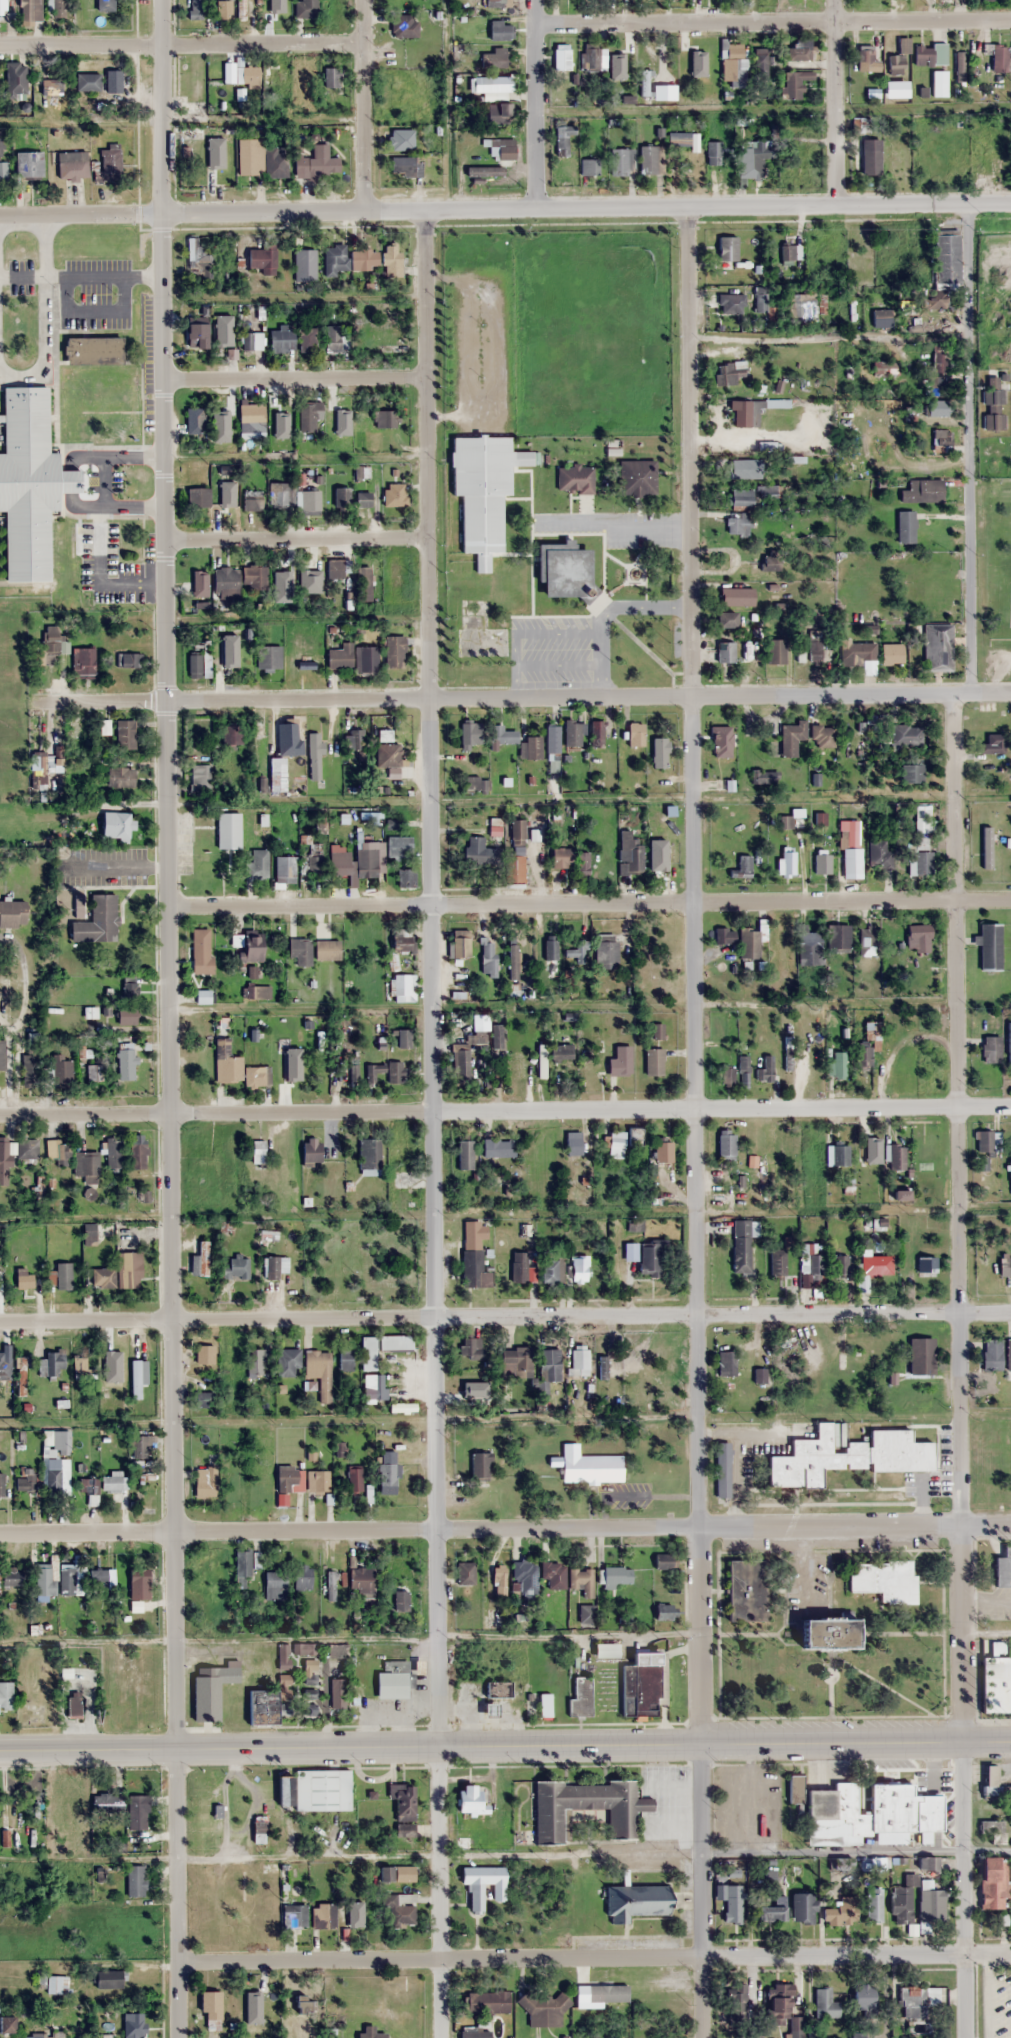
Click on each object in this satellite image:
building: (397, 3)
building: (494, 3)
building: (2, 5)
building: (56, 5)
building: (104, 5)
building: (278, 8)
building: (304, 8)
building: (329, 8)
building: (195, 9)
building: (241, 9)
building: (29, 10)
building: (221, 10)
road: (773, 23)
building: (403, 25)
building: (499, 30)
road: (179, 47)
building: (798, 51)
building: (929, 54)
building: (620, 56)
building: (494, 58)
building: (998, 58)
building: (704, 59)
building: (560, 60)
building: (960, 60)
building: (645, 61)
building: (866, 61)
building: (761, 63)
building: (733, 64)
building: (895, 65)
building: (274, 75)
building: (246, 76)
building: (331, 77)
building: (14, 80)
building: (112, 81)
building: (86, 82)
building: (490, 84)
building: (794, 84)
building: (47, 87)
building: (217, 88)
building: (658, 90)
road: (832, 101)
road: (535, 102)
road: (360, 103)
road: (162, 104)
building: (497, 113)
building: (864, 124)
building: (401, 139)
building: (562, 140)
building: (500, 147)
building: (999, 151)
building: (713, 152)
building: (249, 156)
building: (869, 156)
building: (932, 156)
building: (798, 158)
building: (979, 158)
building: (752, 159)
building: (894, 159)
building: (2, 160)
building: (71, 160)
building: (649, 160)
building: (622, 161)
building: (110, 162)
building: (275, 162)
building: (217, 163)
building: (316, 163)
building: (28, 164)
building: (404, 166)
building: (589, 166)
building: (483, 171)
road: (505, 205)
building: (721, 247)
building: (790, 252)
building: (195, 257)
building: (363, 258)
building: (334, 259)
building: (261, 260)
building: (390, 260)
building: (304, 264)
building: (942, 269)
building: (759, 298)
building: (730, 302)
building: (880, 318)
road: (828, 334)
building: (378, 336)
building: (195, 337)
building: (220, 339)
building: (306, 339)
building: (333, 339)
building: (280, 340)
building: (246, 341)
building: (92, 350)
building: (939, 357)
building: (884, 367)
building: (728, 372)
road: (295, 379)
building: (933, 385)
building: (992, 405)
building: (936, 407)
building: (745, 412)
building: (251, 413)
building: (337, 413)
building: (277, 416)
building: (308, 416)
building: (221, 418)
building: (383, 418)
building: (193, 419)
building: (940, 437)
road: (970, 447)
building: (928, 465)
building: (744, 468)
building: (636, 477)
building: (28, 482)
building: (482, 490)
building: (921, 491)
building: (279, 494)
building: (393, 494)
building: (223, 496)
building: (197, 497)
building: (740, 497)
building: (340, 498)
building: (362, 499)
building: (251, 500)
building: (307, 502)
building: (737, 523)
building: (905, 525)
road: (296, 538)
building: (770, 561)
building: (335, 568)
building: (563, 570)
building: (394, 573)
building: (253, 576)
building: (281, 577)
building: (198, 580)
building: (309, 580)
building: (224, 582)
building: (363, 583)
building: (736, 596)
building: (724, 619)
building: (51, 640)
building: (814, 647)
building: (937, 648)
building: (722, 650)
building: (775, 650)
building: (394, 651)
building: (891, 653)
building: (232, 654)
building: (266, 656)
building: (339, 656)
building: (859, 656)
building: (365, 658)
building: (129, 659)
building: (296, 659)
building: (82, 662)
building: (193, 665)
road: (523, 698)
building: (717, 728)
building: (74, 729)
building: (469, 732)
building: (574, 732)
building: (596, 733)
building: (634, 733)
building: (125, 734)
building: (231, 734)
building: (500, 734)
building: (905, 734)
building: (287, 736)
building: (822, 736)
building: (791, 737)
building: (357, 741)
building: (992, 744)
building: (532, 747)
building: (552, 747)
building: (659, 752)
building: (330, 753)
building: (313, 755)
building: (387, 755)
building: (37, 768)
building: (911, 773)
building: (119, 777)
building: (199, 777)
building: (760, 777)
building: (476, 783)
building: (116, 825)
building: (495, 825)
building: (924, 825)
building: (228, 830)
building: (517, 832)
building: (398, 846)
building: (479, 853)
building: (629, 853)
building: (879, 854)
building: (561, 857)
building: (853, 860)
building: (663, 861)
building: (365, 862)
building: (787, 862)
building: (822, 862)
building: (922, 862)
building: (339, 863)
building: (313, 864)
building: (256, 865)
building: (581, 865)
building: (743, 865)
building: (516, 867)
building: (284, 868)
building: (405, 877)
road: (590, 903)
building: (13, 913)
building: (97, 921)
building: (724, 936)
building: (838, 937)
building: (917, 938)
building: (401, 941)
building: (866, 941)
building: (459, 943)
building: (748, 943)
building: (989, 946)
building: (808, 947)
building: (250, 948)
building: (550, 949)
building: (326, 950)
building: (299, 951)
building: (605, 951)
building: (575, 953)
building: (487, 957)
building: (201, 962)
building: (659, 968)
road: (692, 973)
road: (431, 976)
road: (170, 978)
building: (399, 984)
building: (128, 1018)
building: (496, 1037)
building: (402, 1038)
building: (1008, 1044)
building: (467, 1048)
building: (990, 1049)
building: (559, 1052)
building: (2, 1055)
building: (863, 1059)
building: (620, 1061)
building: (653, 1062)
building: (226, 1063)
building: (837, 1063)
building: (127, 1064)
building: (515, 1066)
building: (28, 1069)
building: (62, 1069)
building: (765, 1069)
building: (393, 1071)
building: (95, 1072)
building: (292, 1072)
building: (743, 1072)
building: (372, 1073)
building: (725, 1075)
building: (256, 1076)
road: (505, 1109)
building: (634, 1135)
building: (572, 1143)
building: (616, 1143)
building: (725, 1145)
building: (986, 1146)
building: (496, 1147)
building: (28, 1149)
building: (662, 1150)
building: (58, 1151)
building: (257, 1151)
building: (139, 1152)
building: (310, 1152)
building: (114, 1153)
building: (397, 1153)
building: (337, 1154)
building: (464, 1154)
building: (837, 1155)
building: (369, 1156)
building: (896, 1156)
building: (869, 1159)
building: (4, 1163)
building: (86, 1163)
building: (1009, 1172)
road: (957, 1219)
building: (467, 1229)
building: (90, 1234)
building: (740, 1246)
building: (647, 1256)
building: (200, 1260)
building: (776, 1262)
building: (1010, 1263)
building: (874, 1264)
building: (840, 1265)
building: (275, 1266)
building: (473, 1266)
building: (810, 1266)
building: (518, 1267)
building: (236, 1268)
building: (577, 1268)
building: (130, 1270)
building: (548, 1270)
building: (926, 1270)
building: (64, 1276)
building: (24, 1278)
building: (100, 1278)
road: (505, 1317)
building: (394, 1342)
building: (470, 1347)
building: (366, 1353)
building: (203, 1354)
building: (991, 1354)
building: (1008, 1354)
building: (920, 1356)
building: (255, 1360)
building: (345, 1360)
building: (517, 1360)
building: (852, 1360)
building: (287, 1362)
building: (578, 1362)
building: (725, 1363)
building: (52, 1364)
building: (548, 1365)
building: (5, 1366)
building: (117, 1366)
building: (318, 1368)
building: (81, 1369)
building: (22, 1376)
building: (471, 1387)
building: (372, 1388)
building: (914, 1397)
building: (203, 1399)
building: (402, 1408)
building: (62, 1440)
building: (389, 1440)
building: (140, 1447)
building: (846, 1457)
building: (479, 1465)
building: (588, 1466)
building: (721, 1470)
building: (59, 1477)
building: (288, 1479)
building: (387, 1479)
building: (318, 1480)
building: (354, 1480)
building: (204, 1482)
building: (28, 1483)
building: (114, 1483)
building: (89, 1487)
road: (505, 1530)
building: (665, 1564)
building: (241, 1566)
building: (1002, 1571)
building: (464, 1573)
building: (553, 1574)
building: (523, 1576)
building: (616, 1576)
building: (13, 1577)
building: (302, 1577)
building: (103, 1578)
building: (218, 1579)
building: (361, 1580)
building: (883, 1580)
building: (46, 1581)
building: (72, 1581)
building: (498, 1581)
building: (582, 1582)
building: (141, 1584)
building: (274, 1585)
building: (331, 1585)
building: (746, 1591)
building: (400, 1593)
building: (664, 1611)
building: (585, 1613)
building: (825, 1635)
building: (305, 1648)
building: (283, 1649)
building: (337, 1650)
building: (604, 1650)
building: (309, 1679)
building: (391, 1680)
building: (640, 1685)
building: (284, 1687)
building: (995, 1688)
building: (497, 1689)
building: (209, 1690)
building: (337, 1693)
building: (6, 1695)
building: (581, 1696)
building: (544, 1705)
building: (75, 1706)
building: (262, 1707)
road: (505, 1746)
building: (993, 1784)
building: (284, 1789)
building: (322, 1789)
building: (467, 1796)
building: (402, 1800)
building: (851, 1802)
building: (108, 1804)
building: (585, 1806)
building: (55, 1811)
building: (138, 1813)
building: (993, 1830)
building: (461, 1840)
building: (397, 1873)
building: (137, 1882)
building: (993, 1882)
building: (482, 1884)
road: (964, 1890)
road: (700, 1891)
road: (439, 1892)
road: (177, 1893)
building: (903, 1899)
building: (633, 1901)
building: (732, 1903)
building: (874, 1904)
building: (931, 1904)
building: (802, 1907)
building: (399, 1909)
building: (772, 1909)
building: (841, 1910)
building: (293, 1915)
building: (323, 1915)
building: (350, 1917)
road: (987, 1951)
road: (570, 1957)
building: (108, 1978)
building: (56, 1984)
building: (864, 1995)
building: (735, 1997)
building: (486, 2001)
building: (778, 2001)
building: (918, 2001)
building: (825, 2002)
building: (301, 2003)
building: (210, 2004)
building: (249, 2008)
building: (542, 2009)
building: (6, 2023)
building: (132, 2025)
building: (474, 2032)
building: (43, 2034)
building: (754, 2036)

